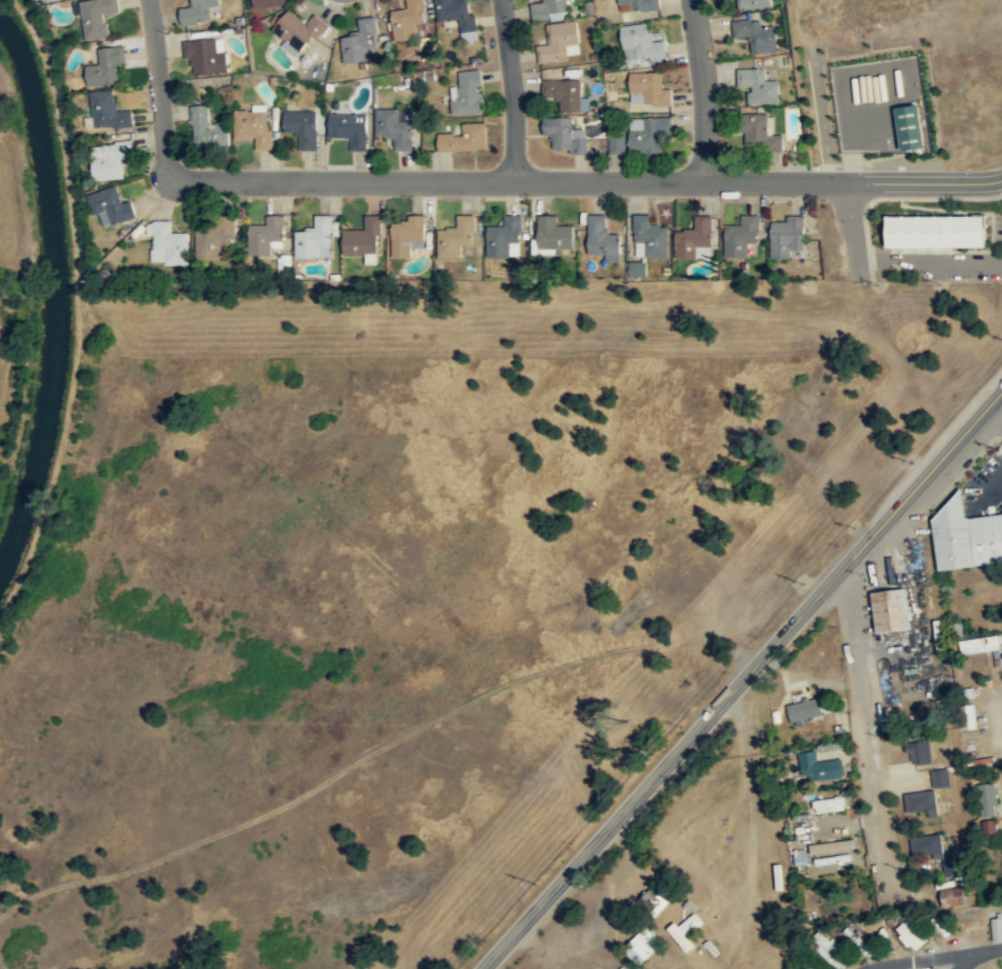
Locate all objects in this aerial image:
building: (267, 3)
building: (753, 4)
building: (637, 5)
building: (548, 10)
building: (200, 12)
building: (458, 15)
building: (97, 17)
building: (408, 19)
building: (298, 30)
building: (757, 36)
building: (359, 41)
building: (558, 42)
building: (640, 44)
building: (206, 56)
building: (105, 67)
building: (758, 86)
road: (160, 89)
road: (511, 89)
building: (647, 89)
road: (704, 90)
building: (467, 93)
building: (562, 93)
building: (107, 111)
road: (822, 125)
building: (908, 126)
building: (253, 127)
building: (301, 127)
building: (394, 128)
building: (349, 129)
building: (208, 131)
building: (758, 133)
building: (648, 134)
building: (562, 135)
building: (464, 139)
building: (618, 143)
building: (109, 160)
street lamp: (864, 167)
street lamp: (970, 167)
road: (586, 180)
building: (109, 206)
road: (850, 228)
building: (934, 230)
building: (553, 233)
building: (266, 234)
building: (458, 234)
building: (407, 236)
building: (215, 237)
building: (504, 237)
building: (741, 237)
building: (786, 237)
building: (363, 238)
building: (601, 238)
building: (649, 238)
building: (314, 239)
building: (694, 240)
building: (168, 244)
road: (928, 257)
road: (993, 417)
road: (990, 486)
building: (965, 536)
building: (893, 610)
building: (983, 646)
road: (741, 679)
building: (805, 709)
road: (867, 729)
building: (919, 751)
building: (819, 766)
building: (941, 778)
building: (989, 798)
building: (922, 802)
building: (829, 804)
building: (927, 846)
building: (833, 847)
building: (801, 856)
building: (953, 866)
building: (954, 896)
building: (655, 898)
building: (997, 928)
building: (685, 930)
building: (911, 935)
building: (641, 946)
building: (833, 948)
road: (984, 950)
road: (916, 959)
road: (960, 962)

